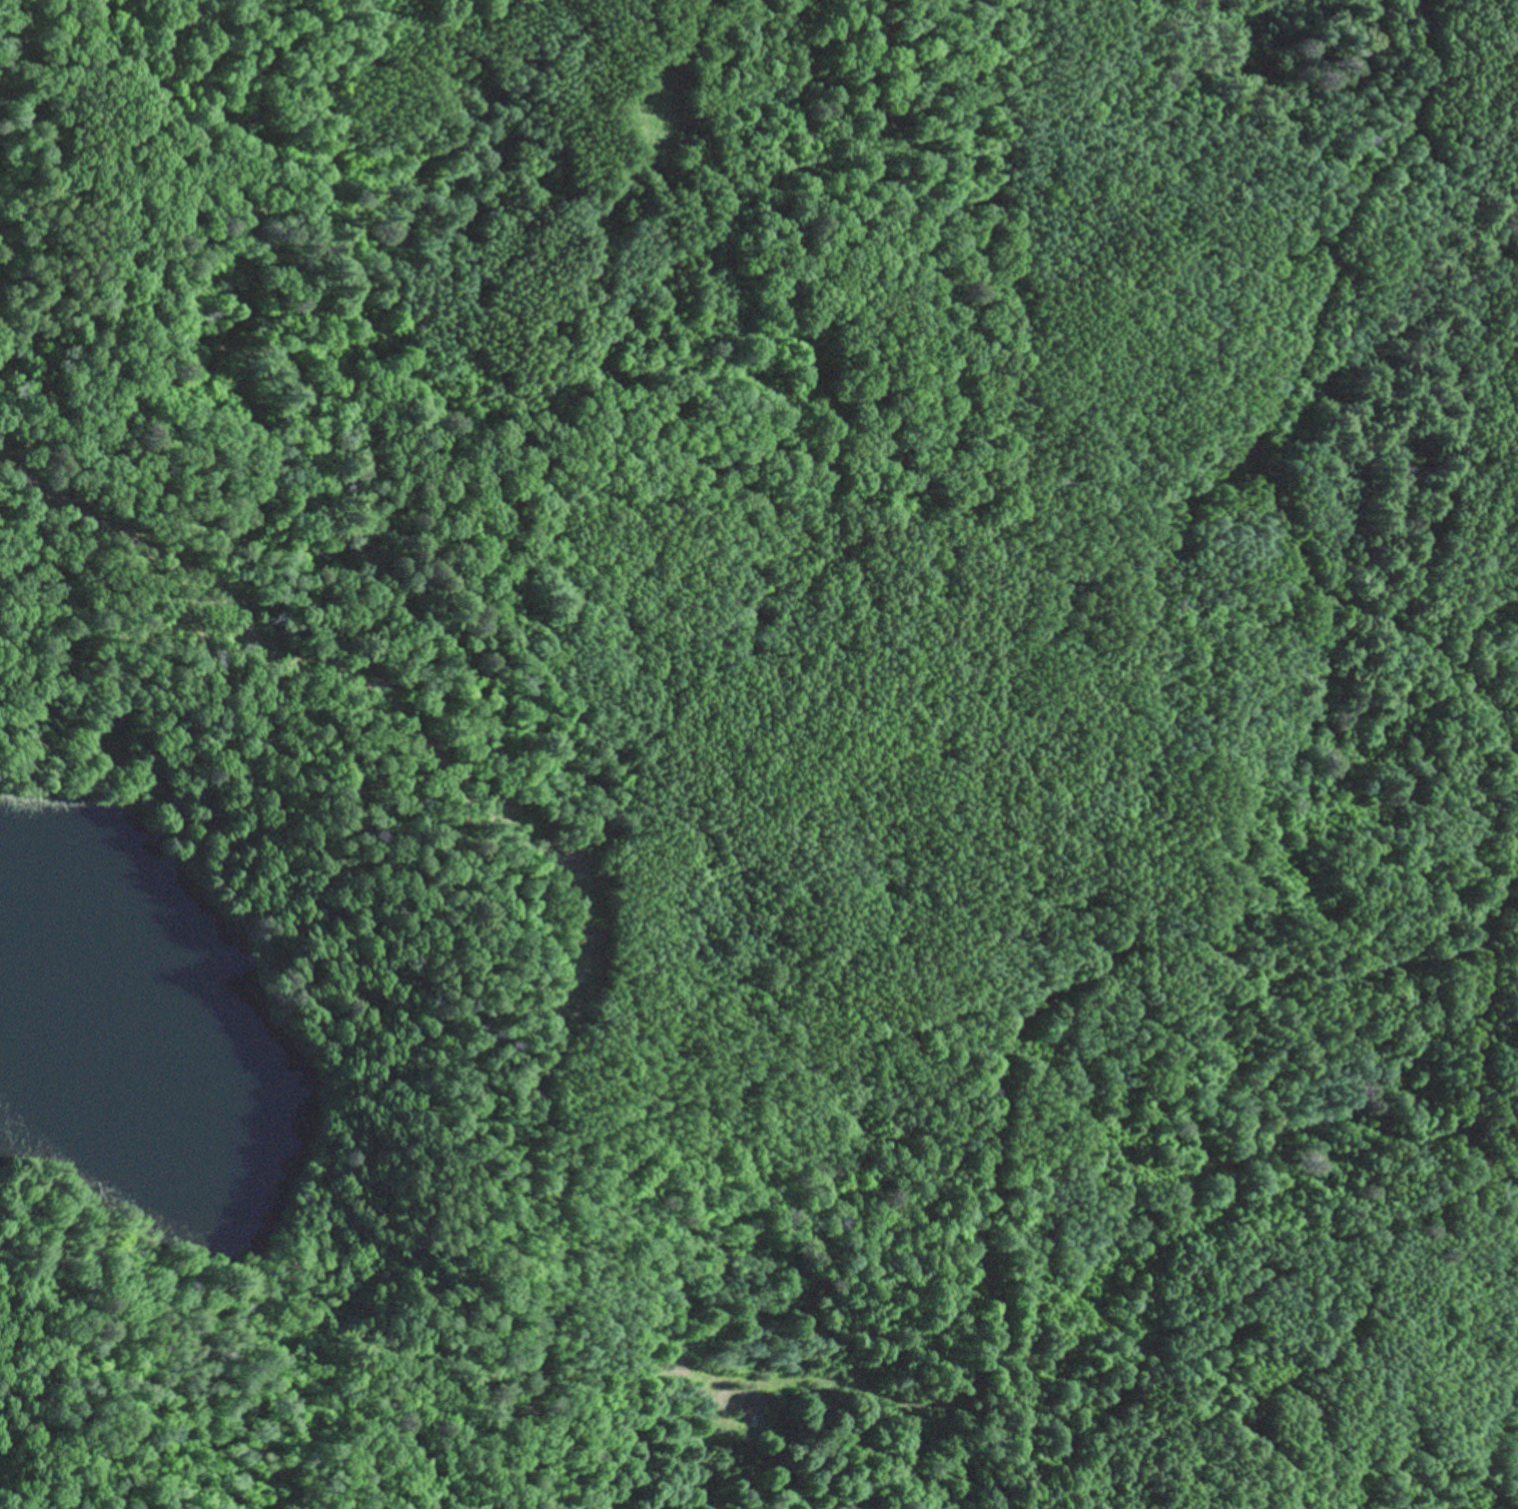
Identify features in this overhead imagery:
quarry: (1285, 304)
road: (1254, 427)
road: (1497, 702)
road: (1476, 1028)

